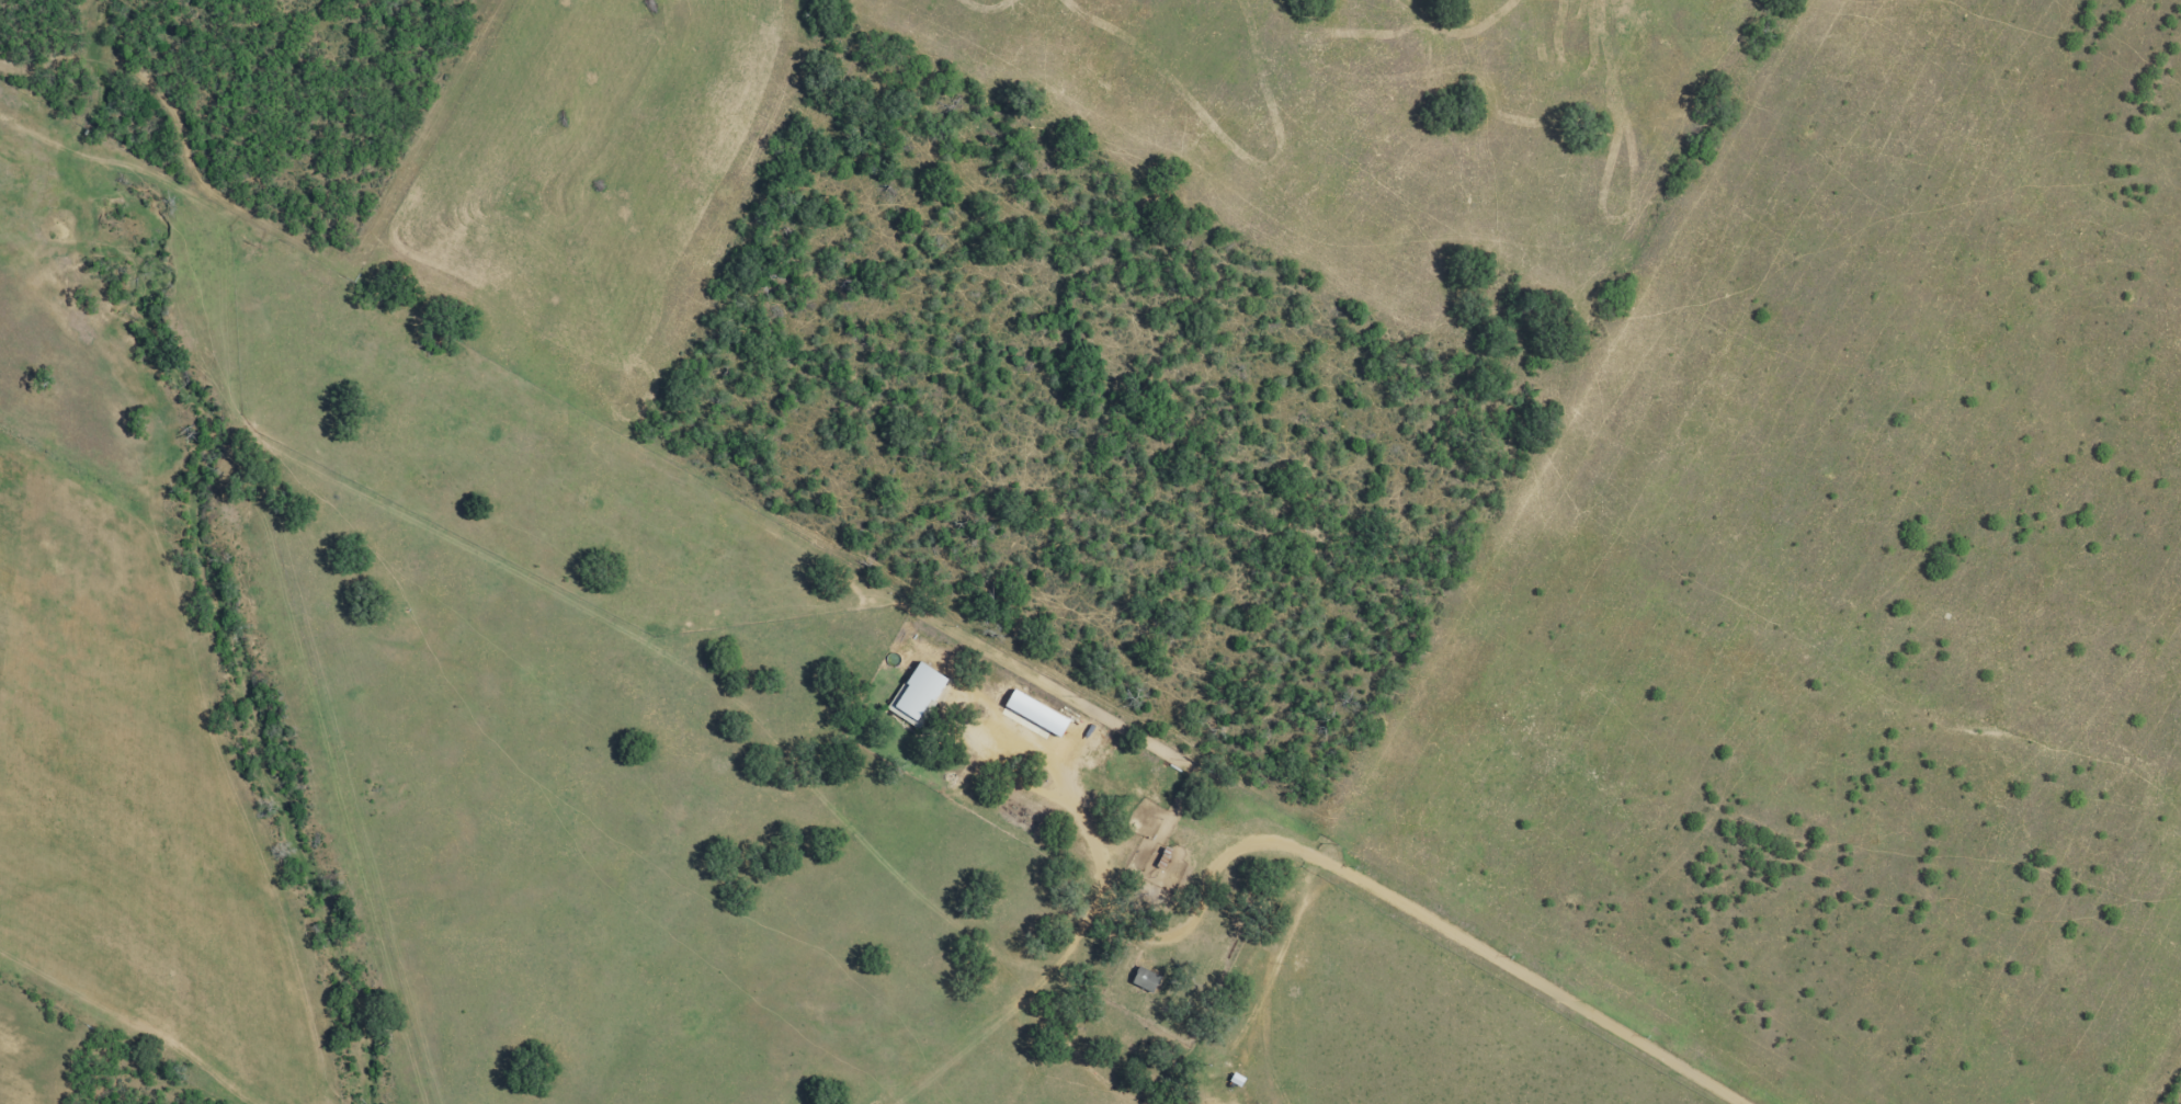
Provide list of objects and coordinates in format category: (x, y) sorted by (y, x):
building: (911, 687)
building: (1031, 712)
road: (1333, 866)
road: (1281, 952)

